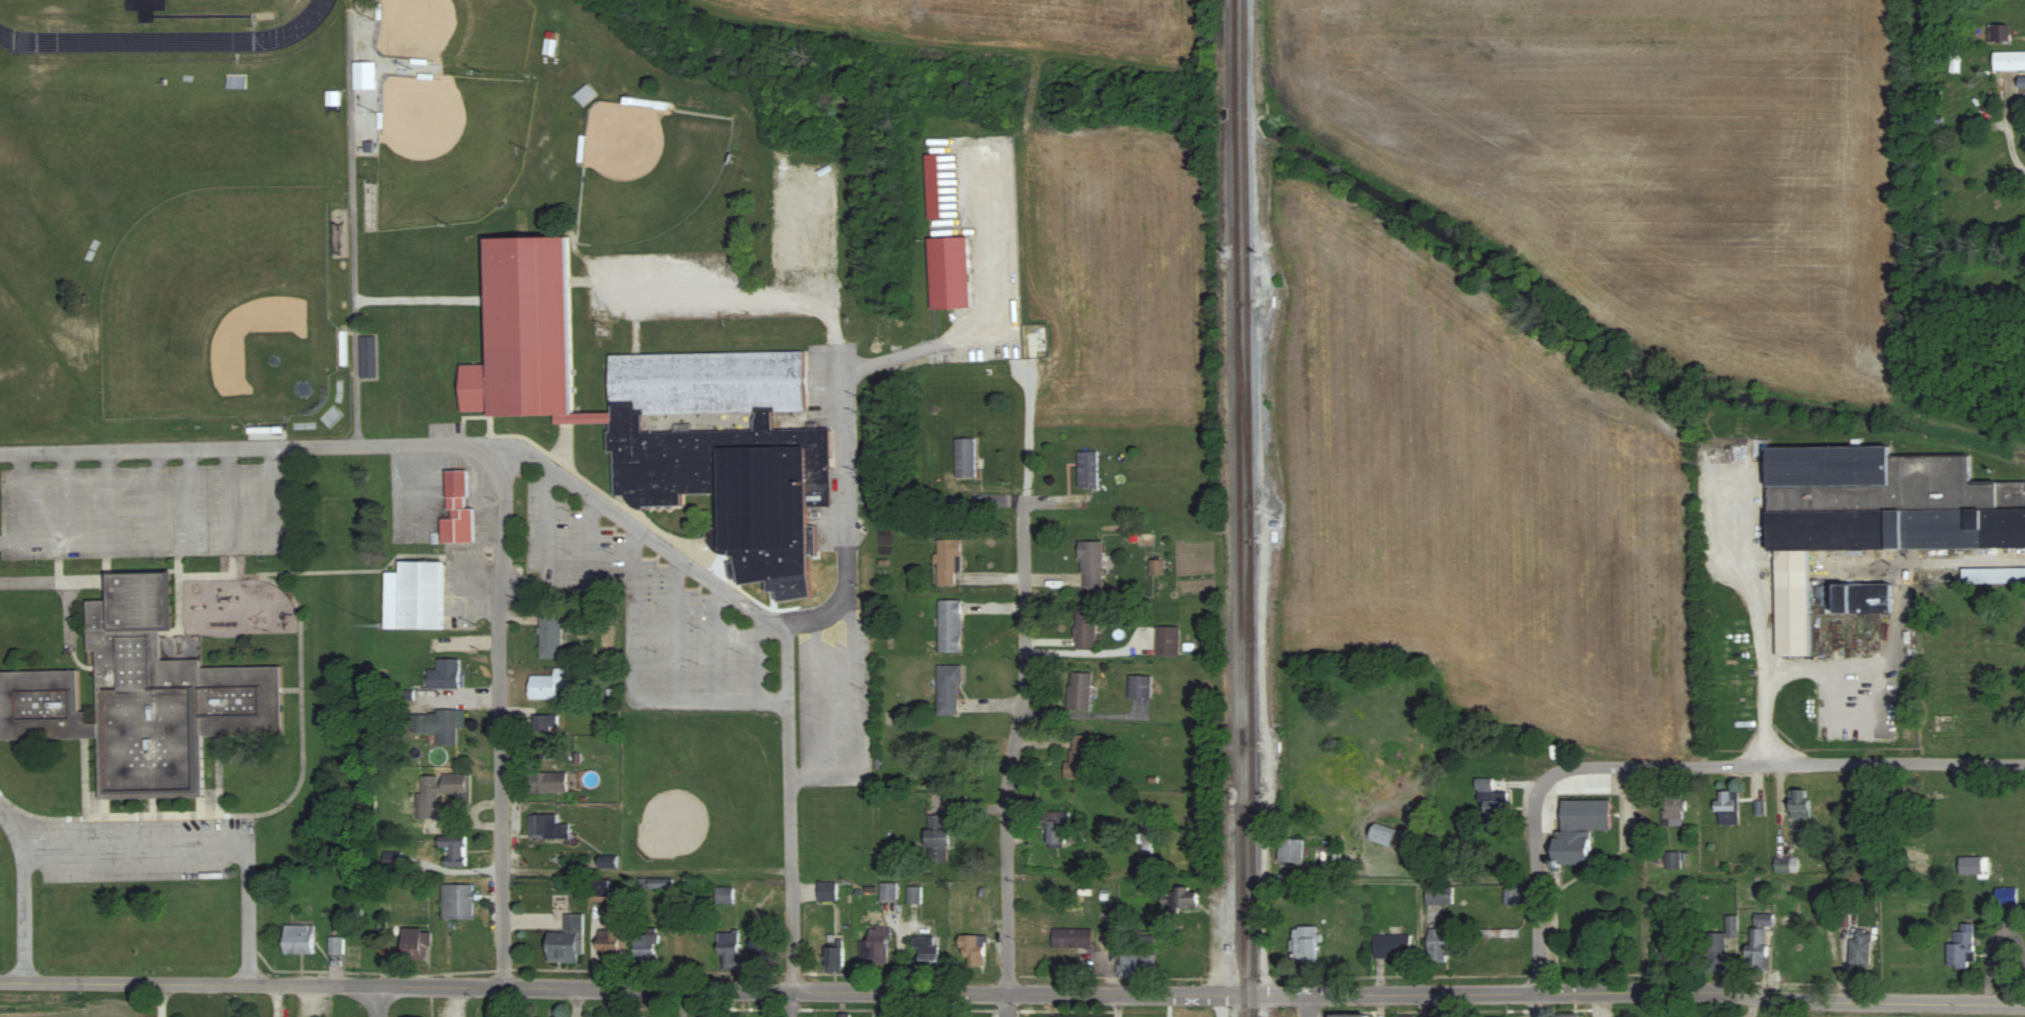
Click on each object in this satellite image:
building: (2001, 34)
track: (167, 37)
building: (548, 46)
building: (1954, 61)
building: (2009, 61)
building: (364, 75)
building: (585, 94)
building: (932, 186)
building: (948, 272)
building: (368, 357)
building: (659, 413)
road: (844, 426)
road: (248, 446)
building: (963, 457)
building: (1086, 468)
railway: (1238, 508)
railway: (1248, 508)
building: (457, 510)
building: (1864, 516)
road: (677, 554)
building: (947, 561)
building: (1090, 564)
building: (1155, 566)
building: (1994, 575)
road: (50, 580)
building: (415, 596)
building: (1864, 597)
road: (1760, 616)
building: (949, 626)
building: (1084, 629)
building: (550, 635)
building: (1166, 641)
road: (1870, 664)
building: (445, 675)
building: (550, 685)
building: (1138, 686)
building: (948, 690)
building: (1078, 690)
building: (142, 698)
building: (545, 723)
building: (439, 725)
building: (1079, 758)
road: (1785, 764)
road: (1009, 769)
building: (547, 783)
building: (456, 786)
road: (502, 795)
building: (429, 796)
building: (1493, 803)
building: (1800, 803)
building: (1673, 806)
building: (1727, 808)
building: (548, 827)
building: (1055, 829)
building: (1146, 830)
building: (1580, 830)
building: (1382, 836)
building: (937, 838)
road: (204, 848)
building: (1291, 850)
building: (455, 852)
building: (391, 859)
building: (1673, 861)
road: (1076, 877)
building: (655, 884)
building: (600, 890)
building: (887, 890)
road: (24, 891)
building: (826, 891)
building: (913, 894)
building: (724, 895)
building: (1439, 895)
building: (2006, 895)
building: (1186, 897)
building: (1512, 897)
road: (1538, 897)
building: (458, 901)
building: (1764, 919)
building: (1499, 932)
building: (1071, 937)
building: (299, 939)
building: (567, 941)
building: (759, 942)
building: (416, 943)
building: (610, 944)
road: (792, 944)
building: (1306, 944)
building: (336, 945)
building: (1442, 945)
building: (875, 946)
building: (1719, 946)
building: (1962, 946)
building: (1393, 947)
building: (1758, 948)
building: (647, 949)
building: (972, 949)
building: (1861, 949)
building: (728, 951)
building: (926, 951)
building: (832, 956)
building: (1670, 956)
building: (1135, 964)
road: (1012, 995)
road: (159, 1001)
road: (380, 1003)
road: (578, 1003)
road: (893, 1005)
road: (1115, 1006)
road: (1308, 1006)
building: (843, 1014)
building: (1349, 1015)
building: (1405, 1015)
building: (1568, 1015)

